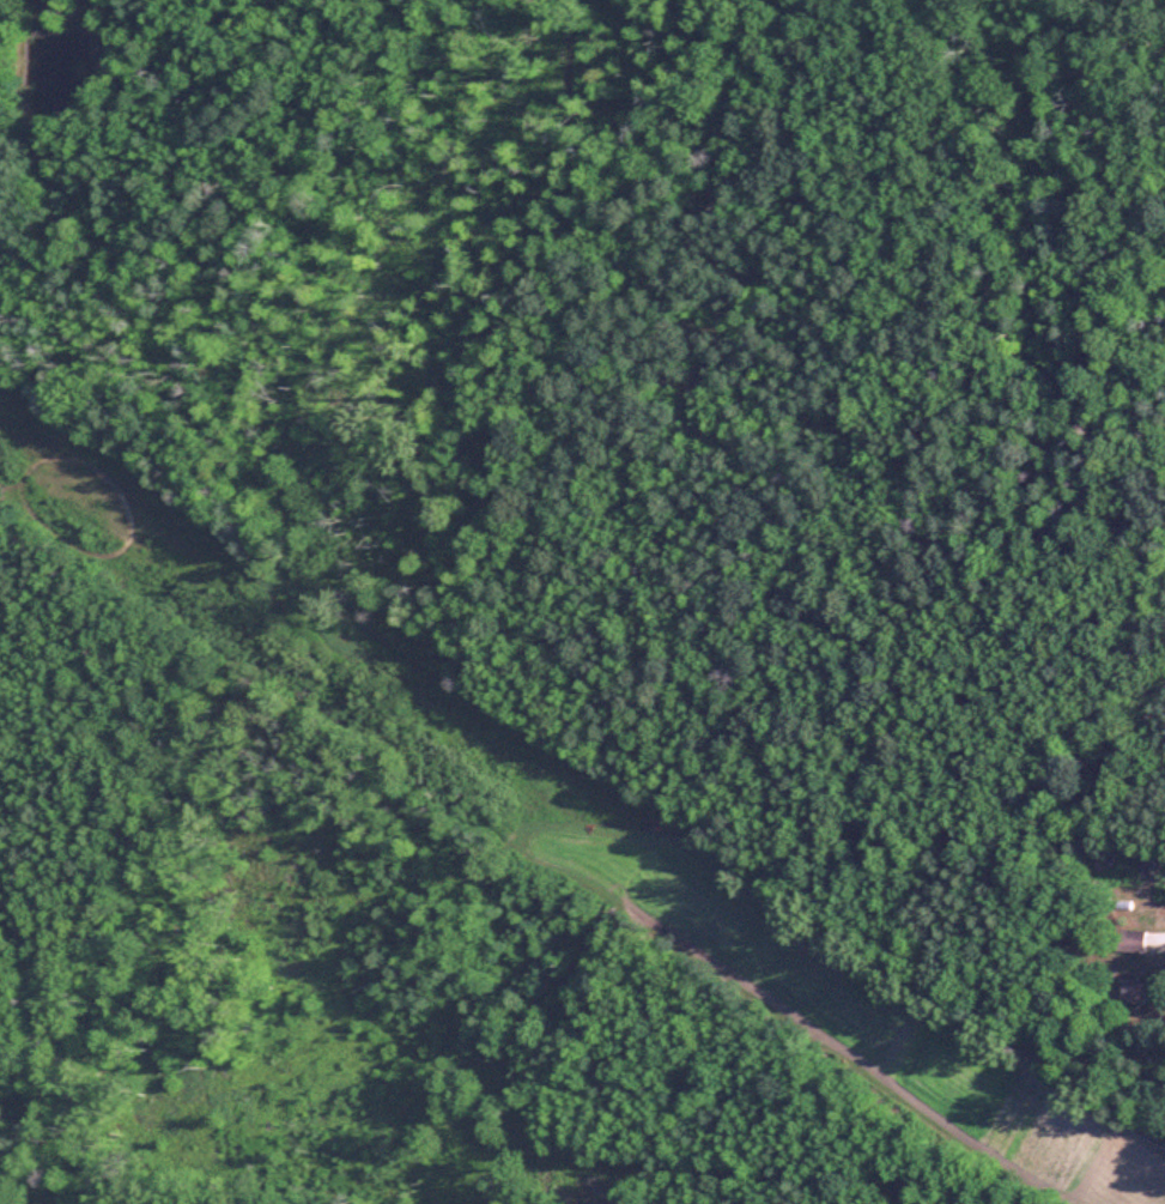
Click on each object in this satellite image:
building: (1128, 942)
building: (1128, 992)

